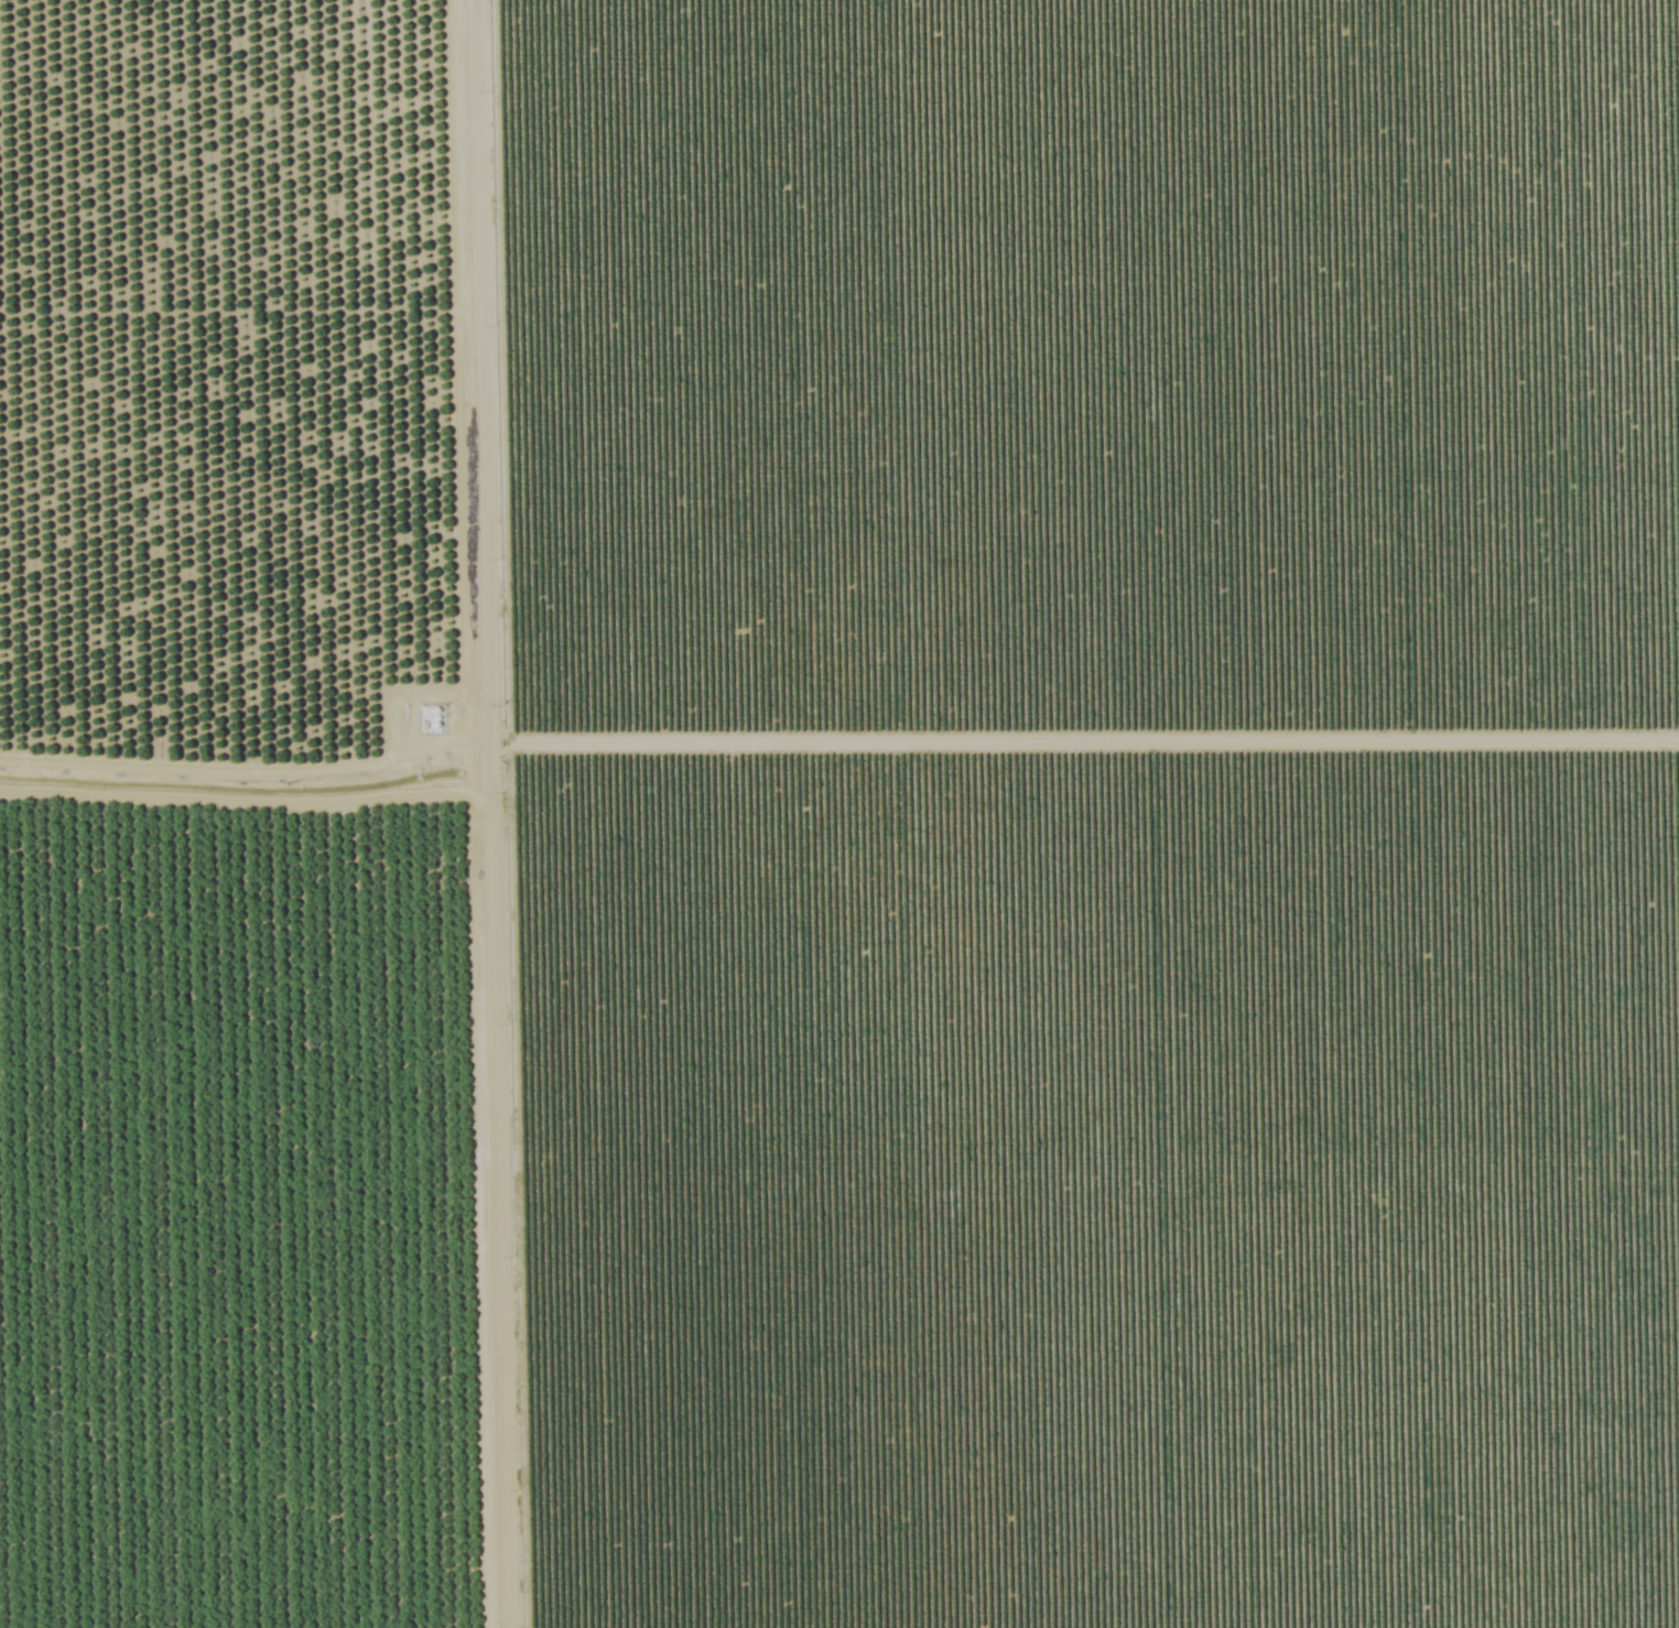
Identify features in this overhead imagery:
crop: (215, 378)
crop: (236, 1223)

